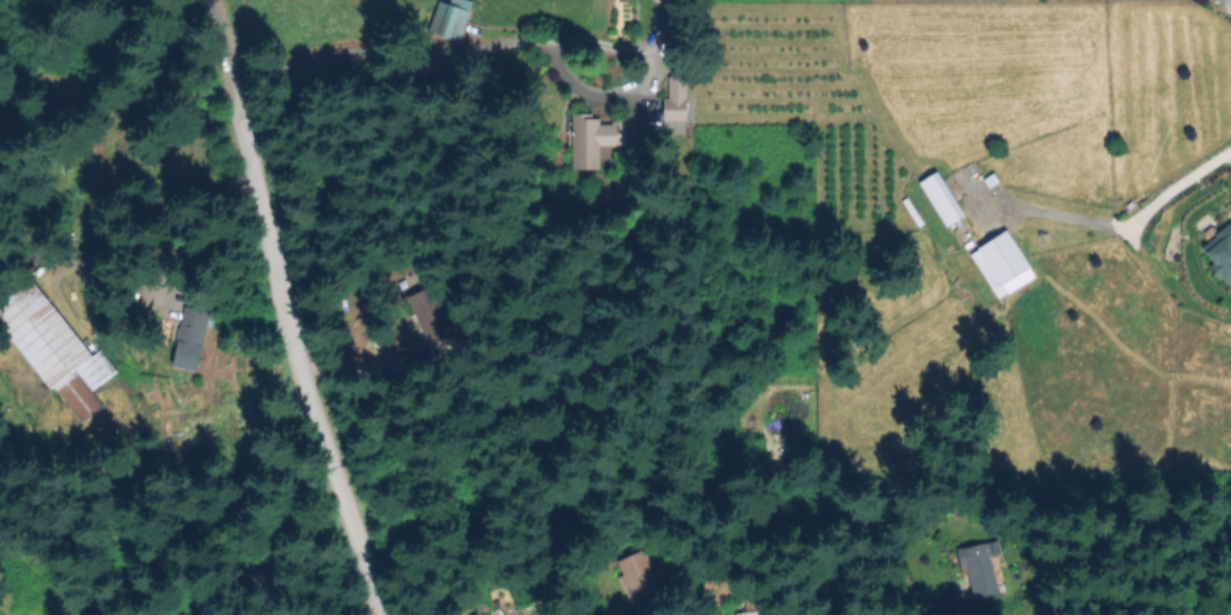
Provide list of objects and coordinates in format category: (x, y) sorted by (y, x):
building: (448, 19)
road: (414, 39)
building: (812, 65)
building: (673, 99)
building: (1162, 107)
building: (589, 140)
building: (939, 200)
road: (1115, 224)
building: (1220, 256)
building: (999, 264)
road: (284, 310)
building: (192, 323)
building: (53, 351)
building: (982, 561)
building: (642, 584)

